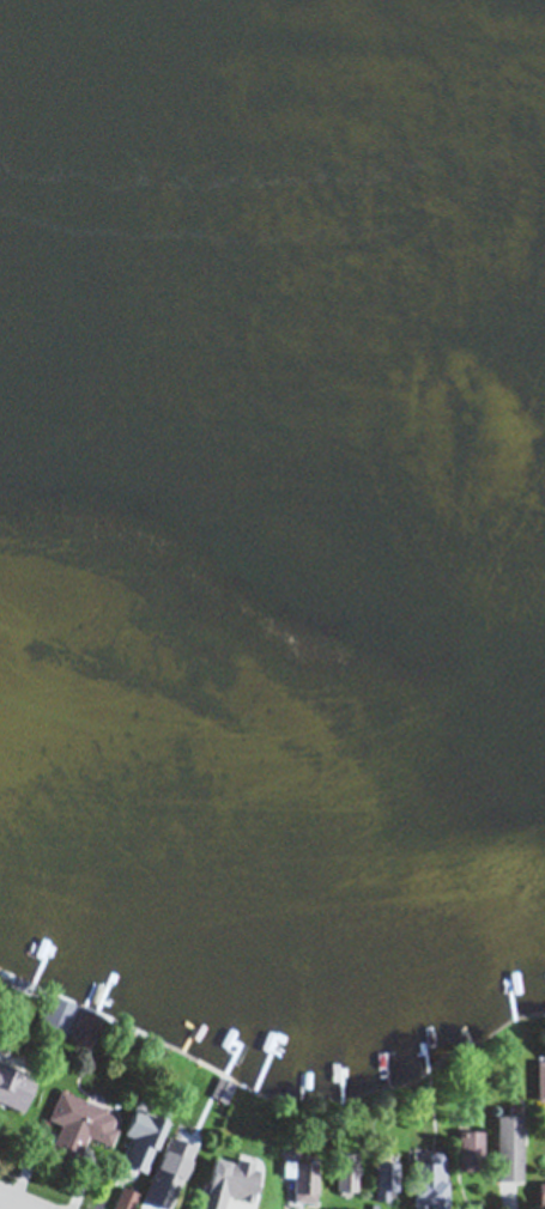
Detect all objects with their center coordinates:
building: (69, 1021)
building: (540, 1080)
building: (16, 1085)
building: (83, 1123)
building: (147, 1129)
building: (182, 1140)
building: (509, 1147)
building: (471, 1149)
building: (422, 1175)
building: (346, 1177)
building: (387, 1177)
building: (305, 1180)
building: (228, 1181)
building: (541, 1192)
road: (12, 1203)

